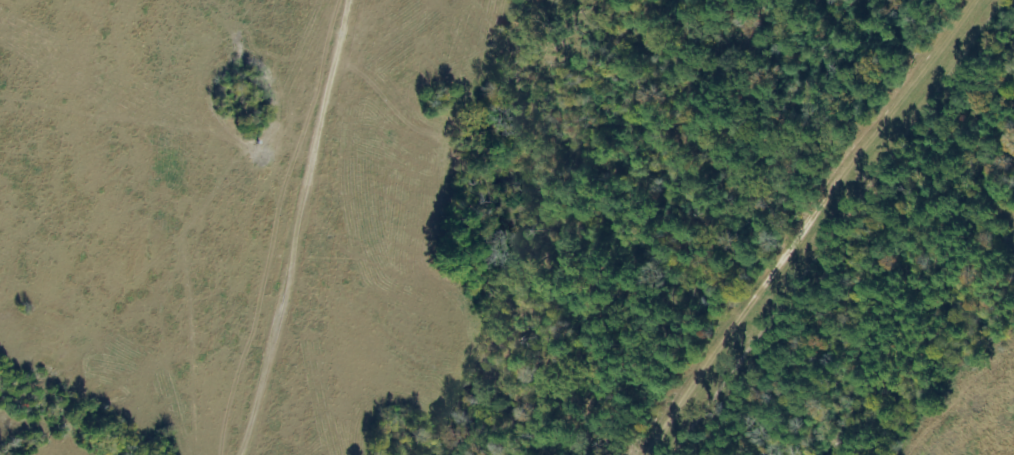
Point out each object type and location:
road: (804, 226)

